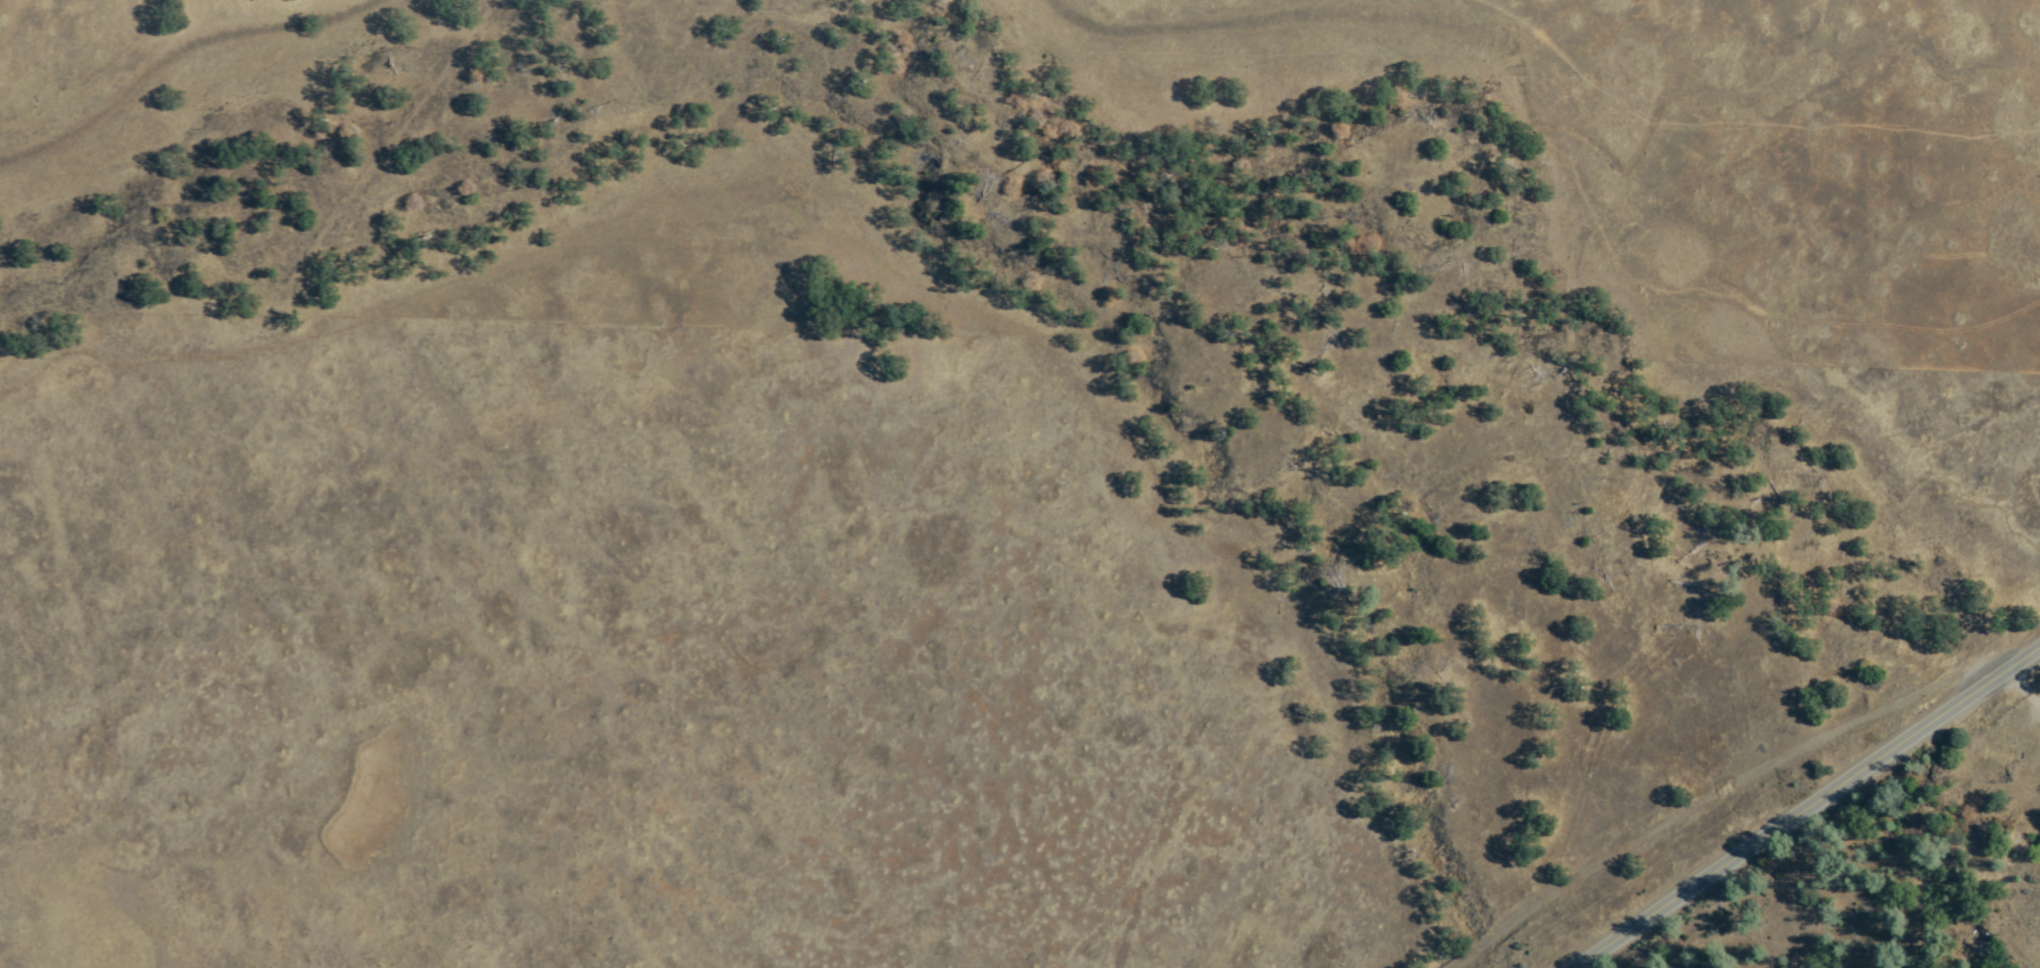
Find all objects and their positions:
road: (1890, 327)
road: (2021, 689)
road: (1806, 806)

